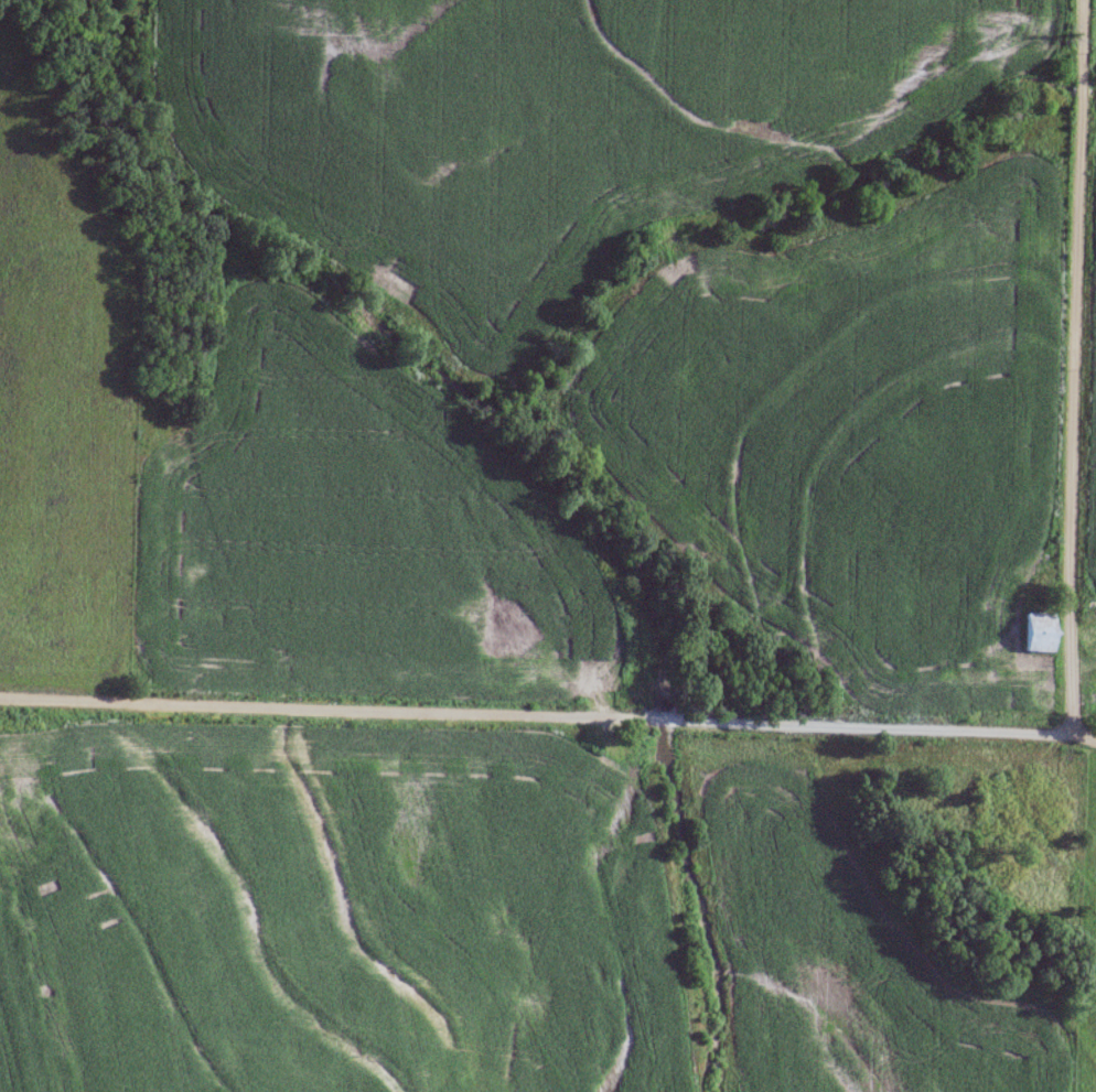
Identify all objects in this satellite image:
road: (1073, 370)
building: (1038, 634)
road: (548, 721)

